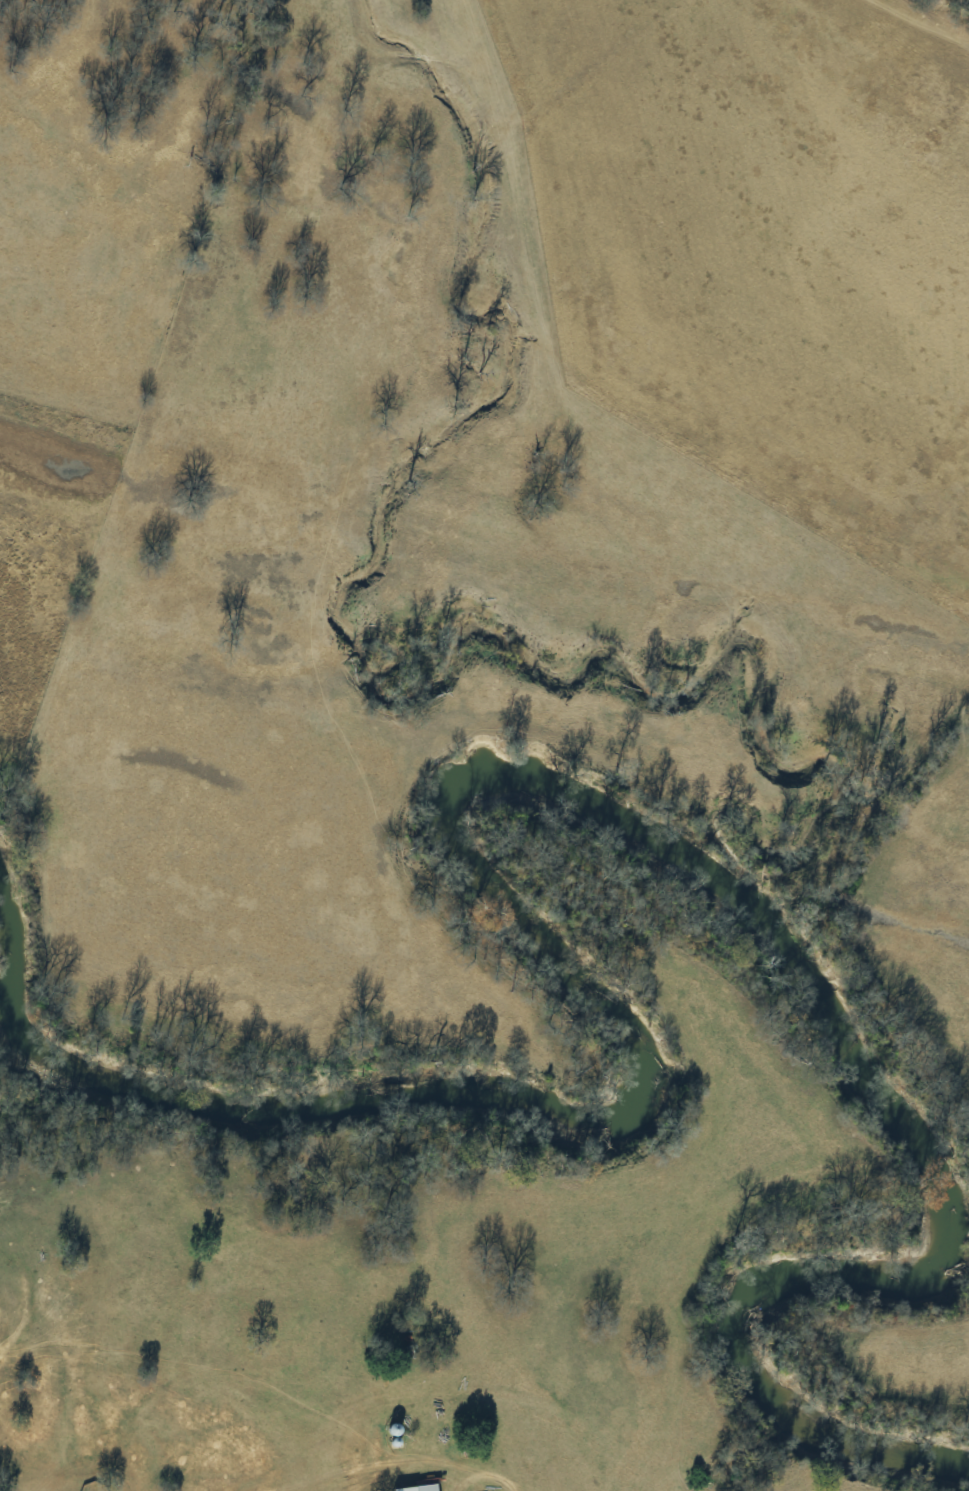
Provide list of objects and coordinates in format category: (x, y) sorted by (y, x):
river: (471, 776)
road: (467, 1452)

